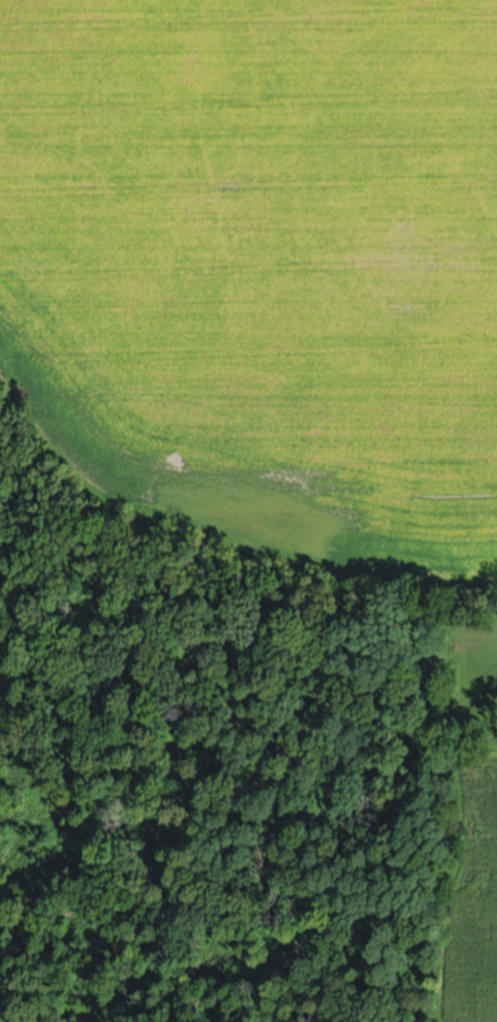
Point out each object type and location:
crop: (261, 269)
crop: (471, 899)

